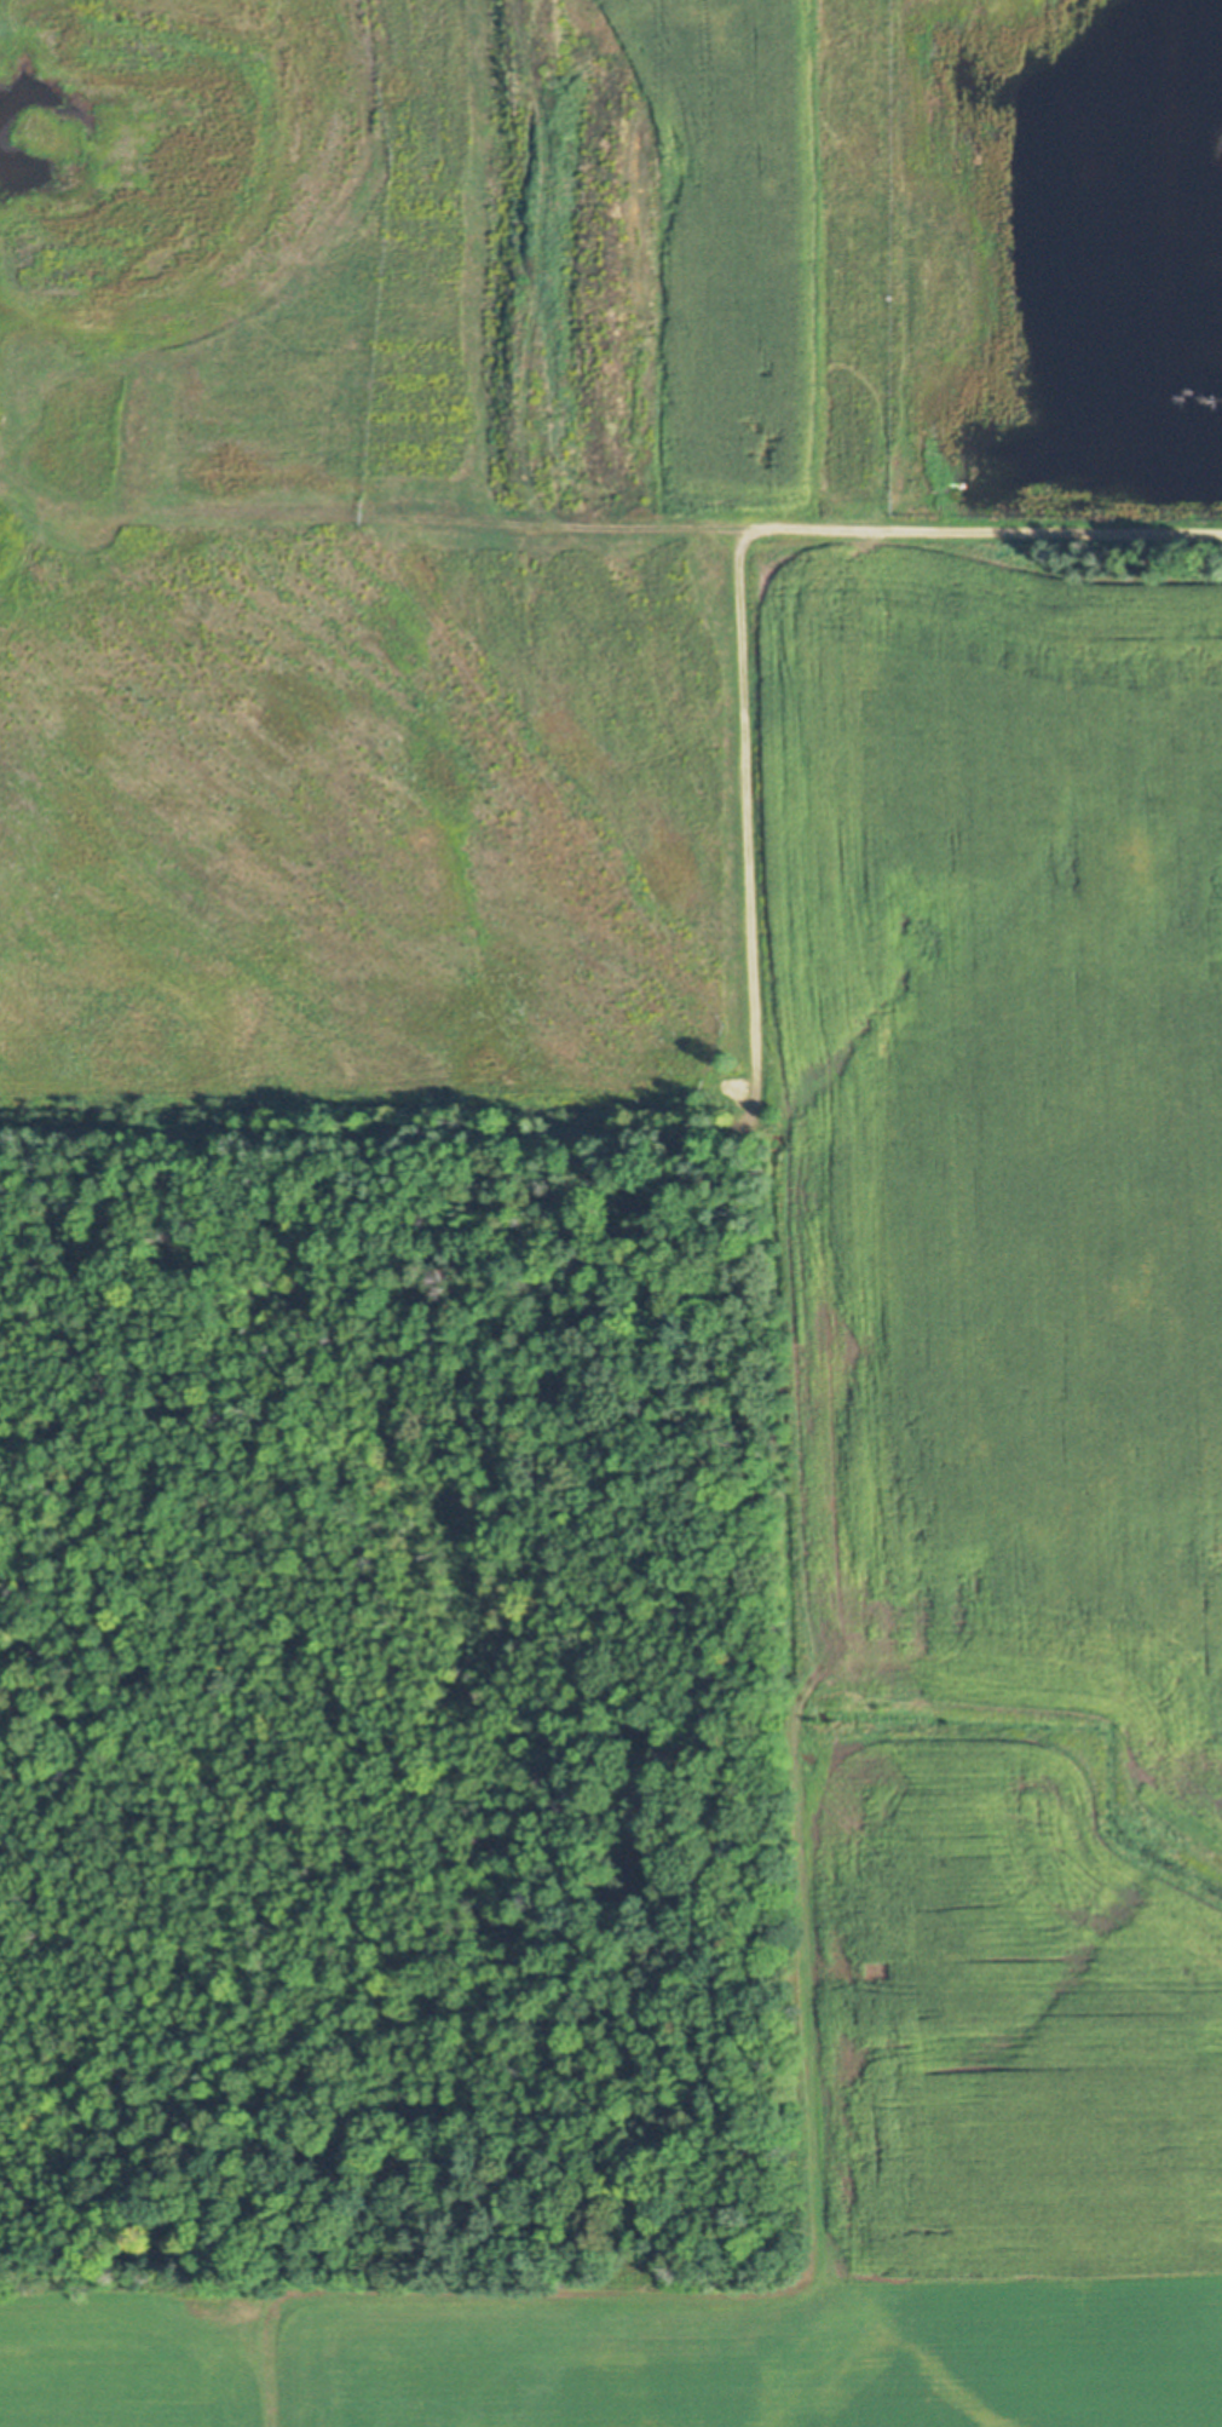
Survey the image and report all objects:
road: (370, 514)
road: (982, 529)
road: (671, 1131)
road: (806, 2031)

